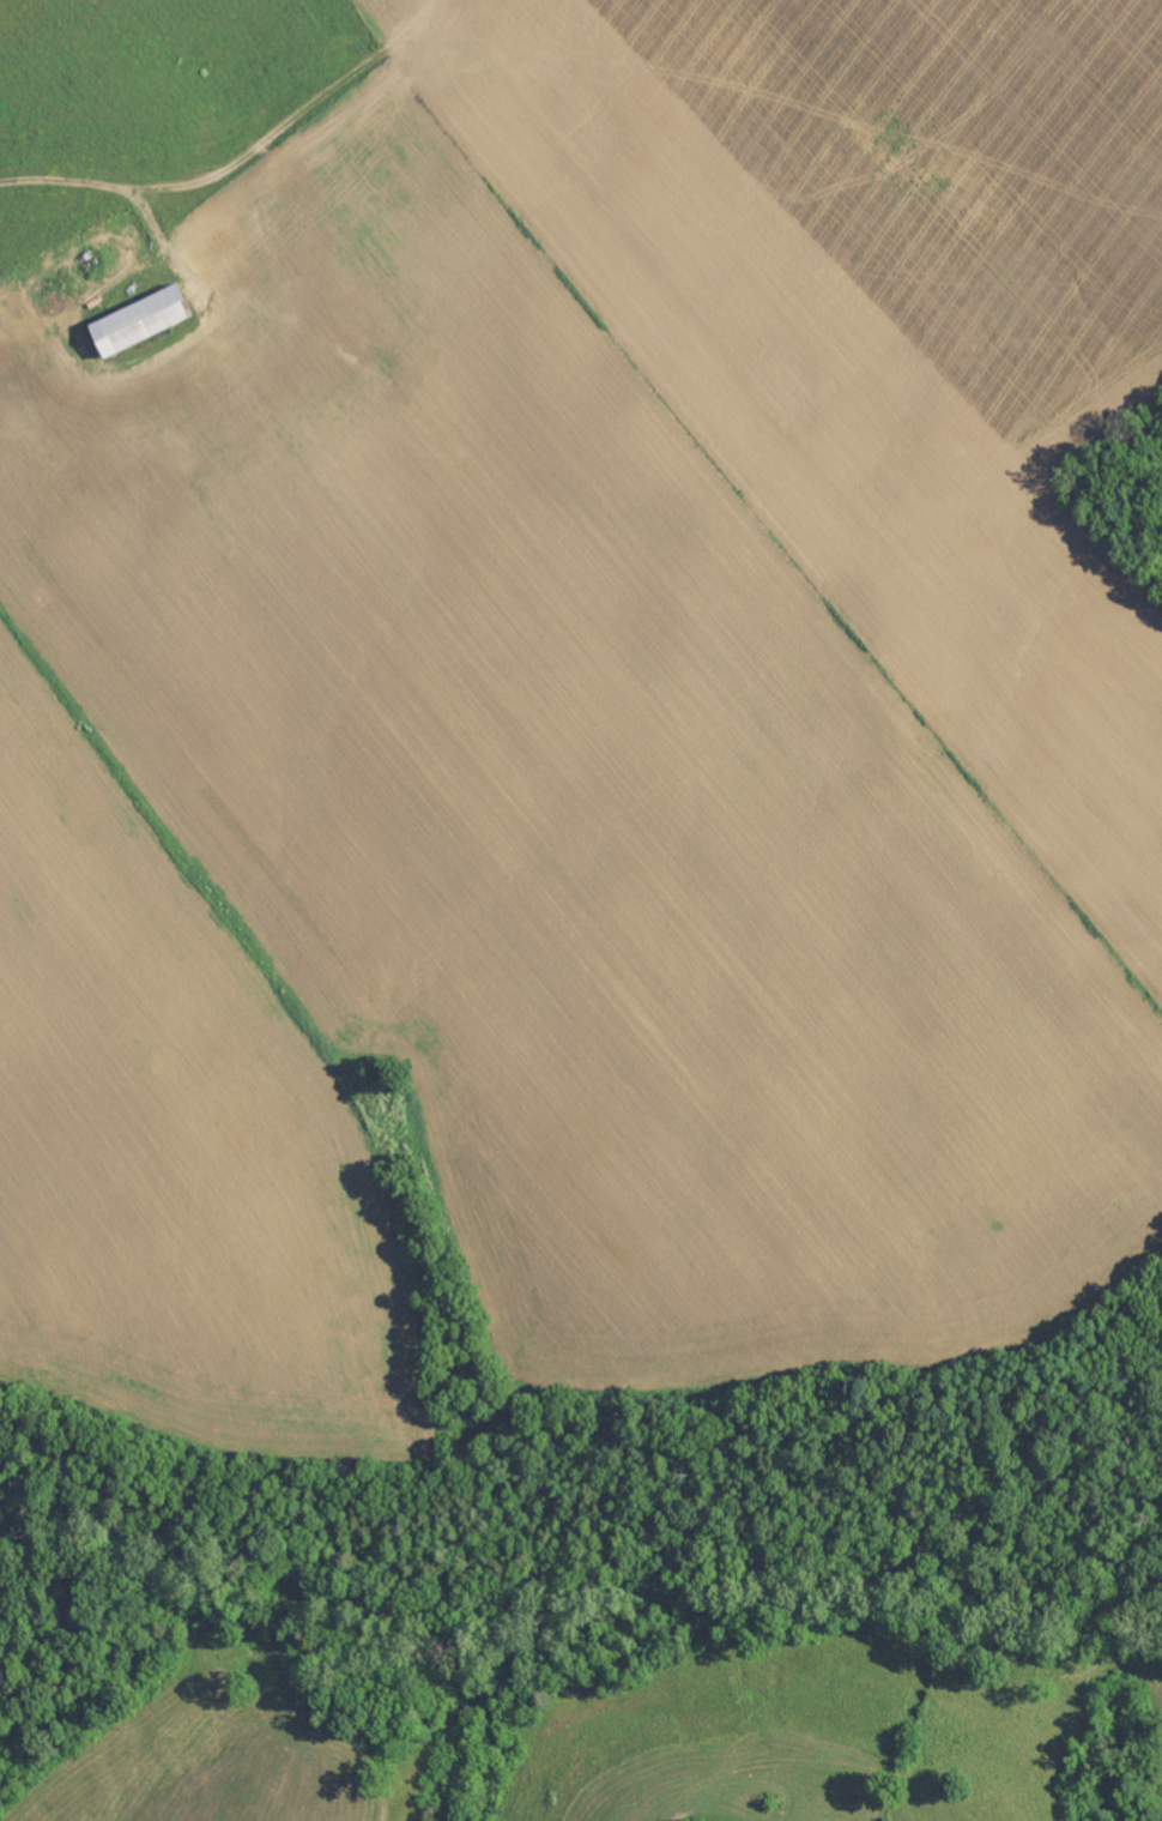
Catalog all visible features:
road: (223, 169)
building: (137, 322)

